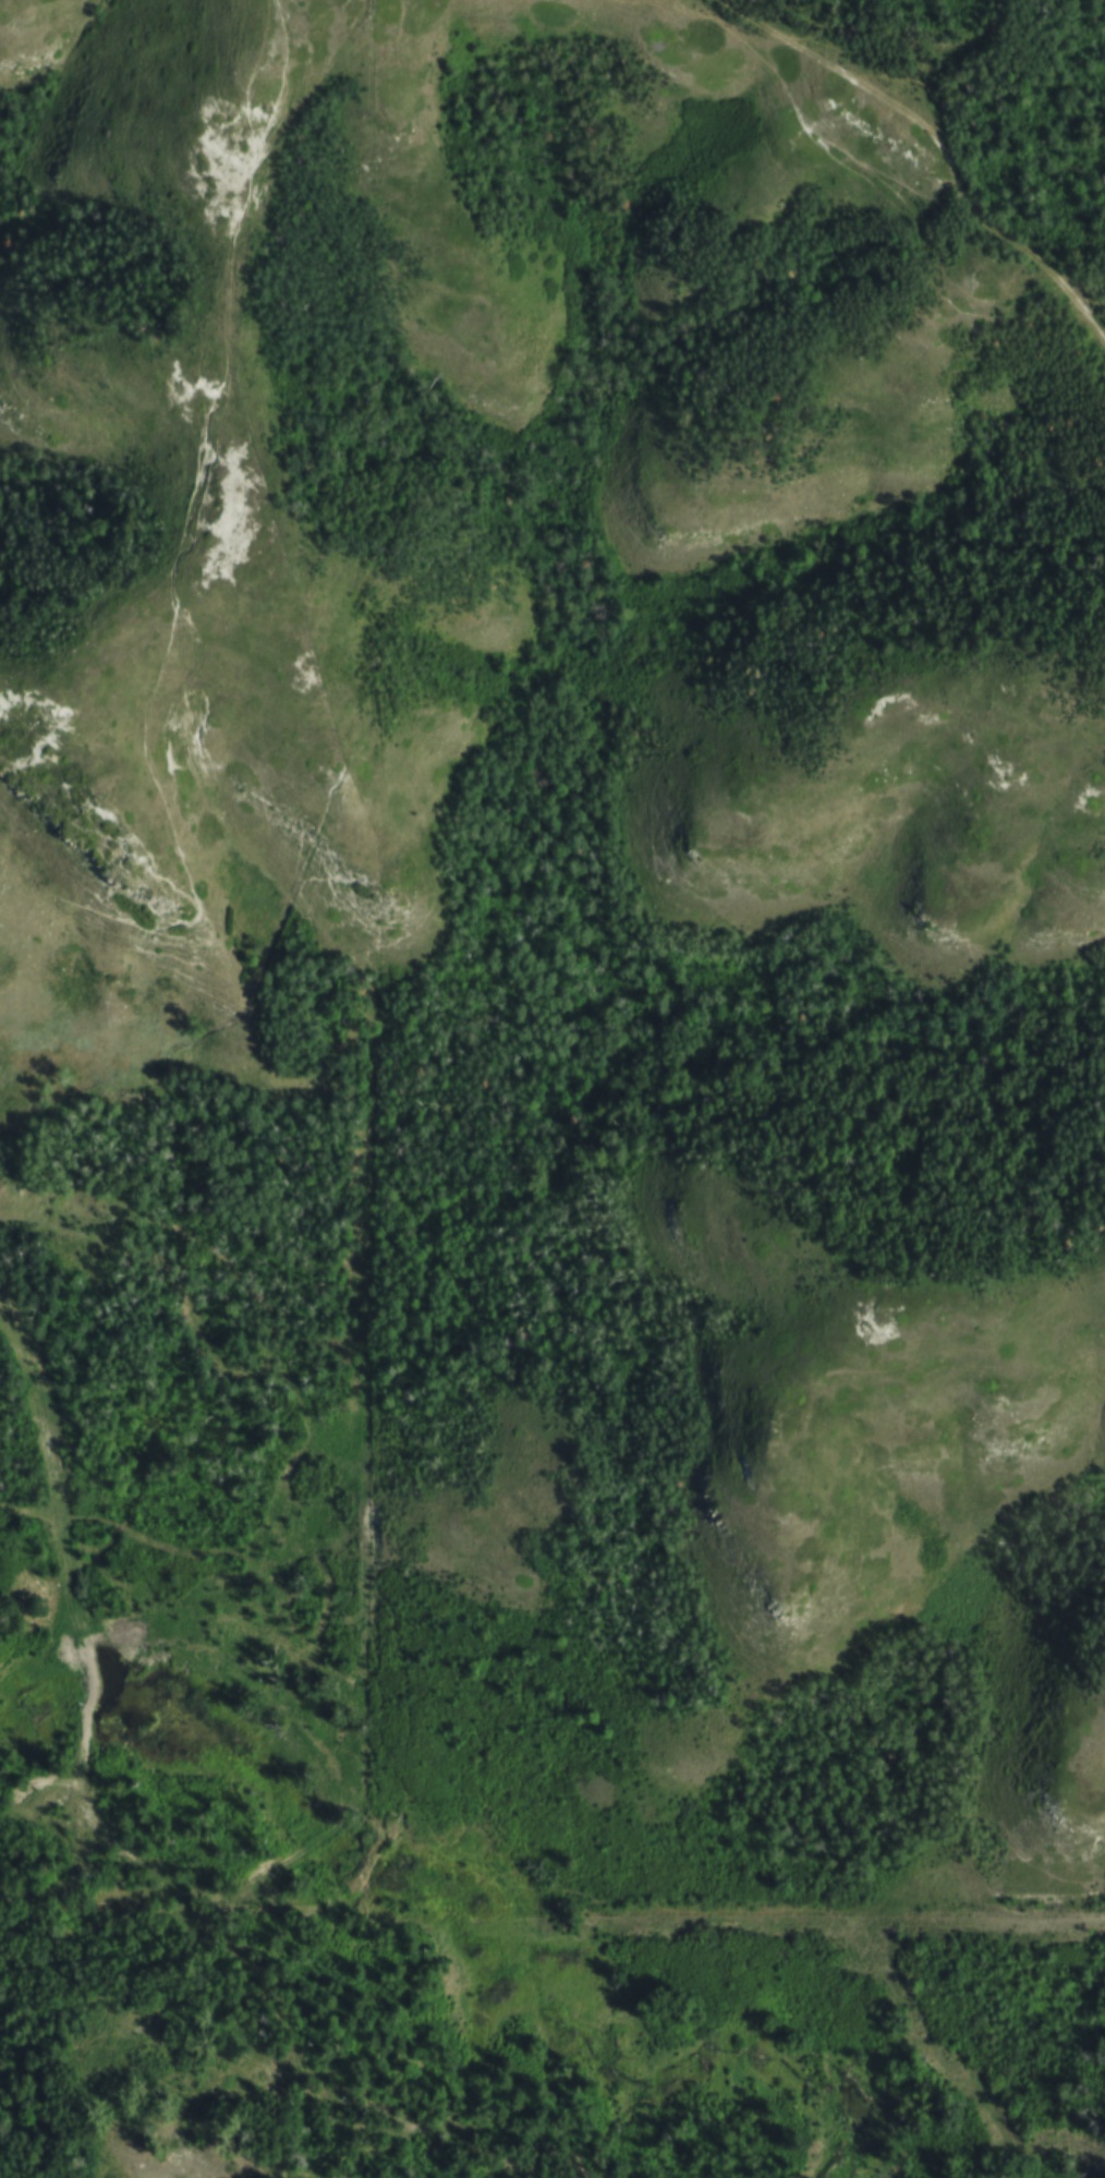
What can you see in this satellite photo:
road: (865, 1926)

